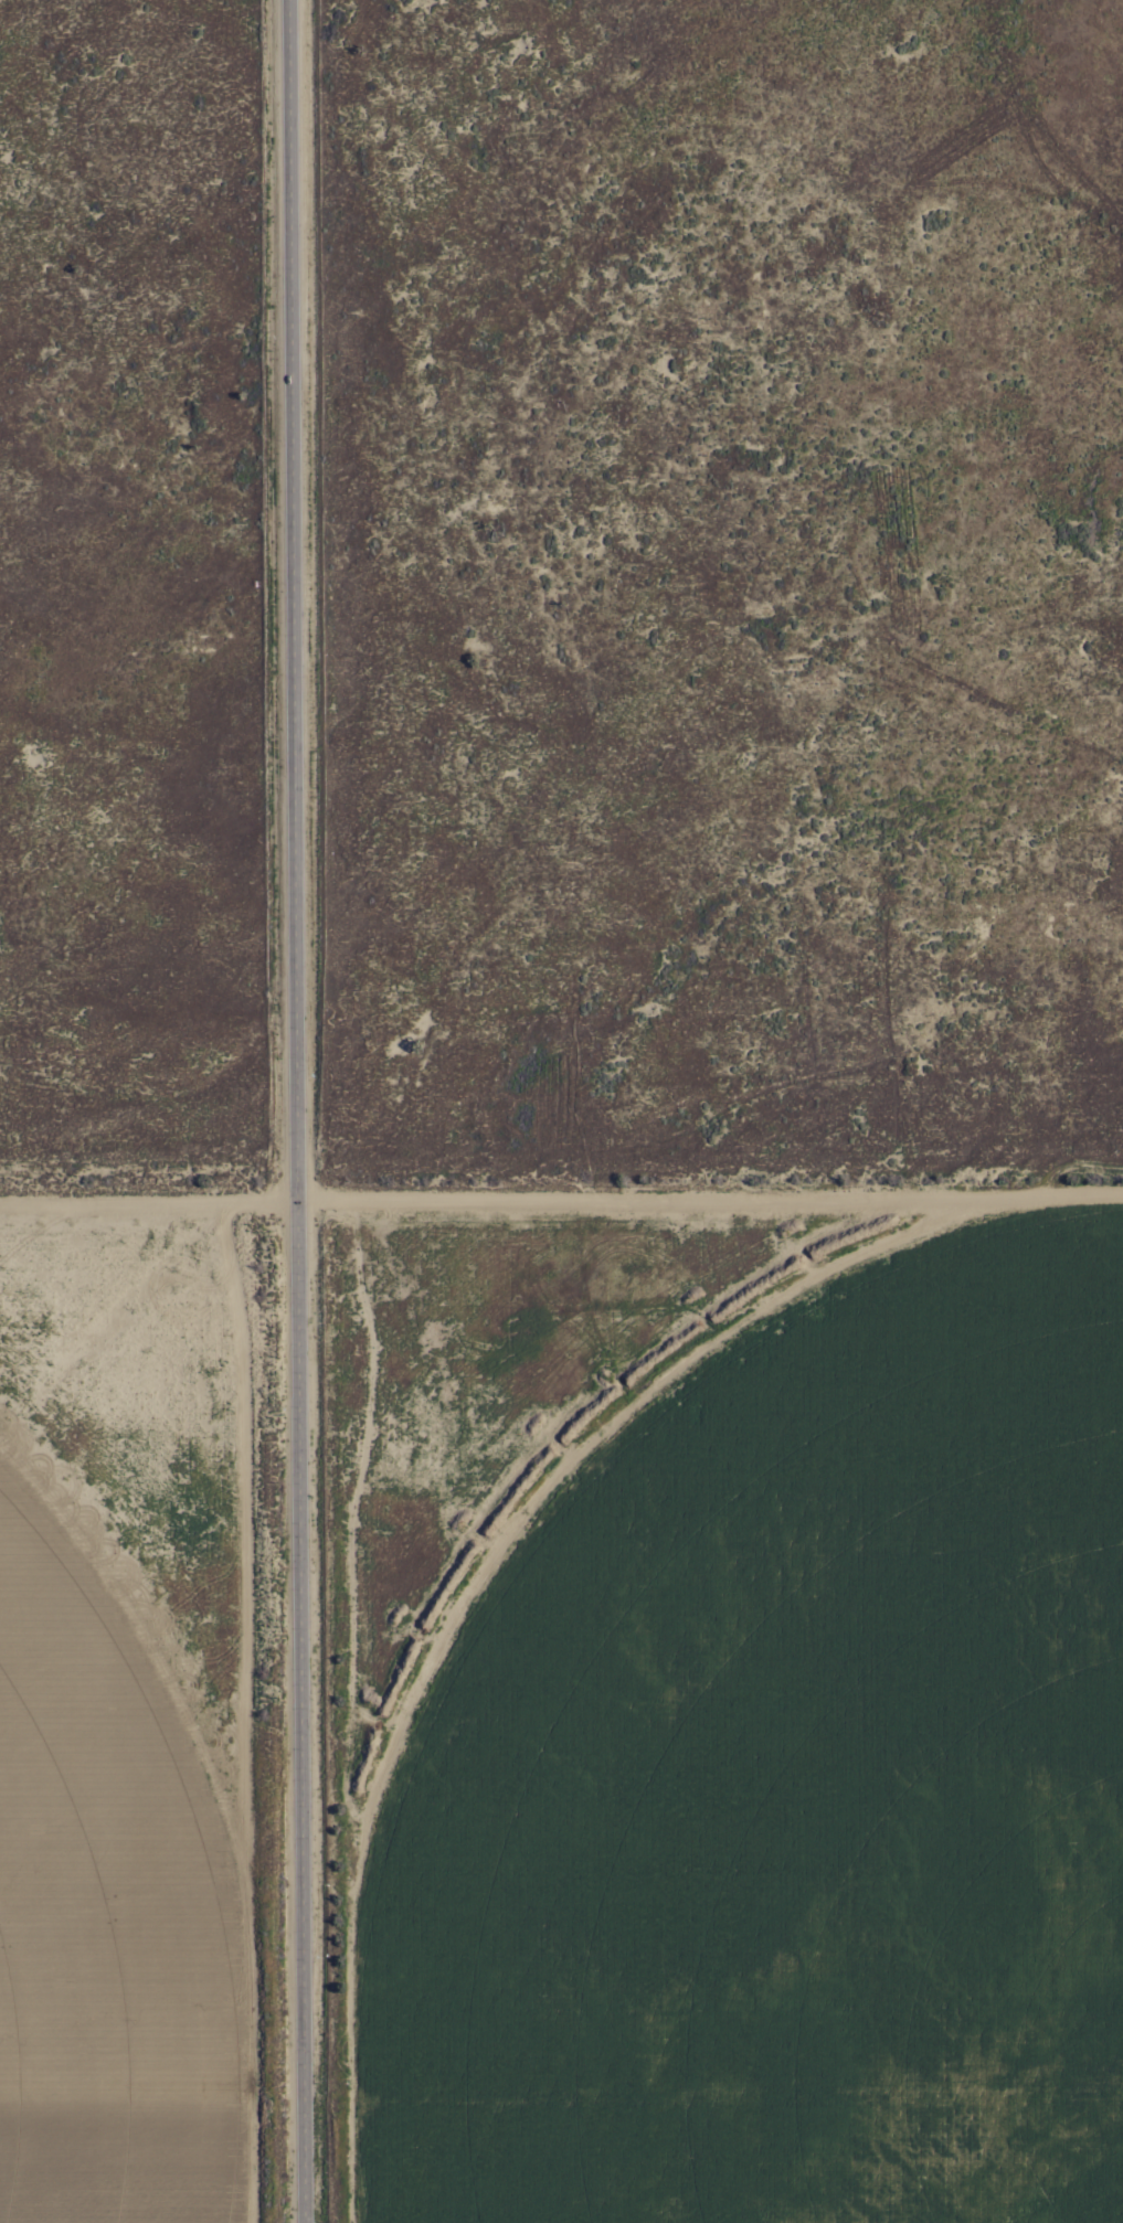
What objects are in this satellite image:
road: (296, 1111)
crop: (561, 1699)

